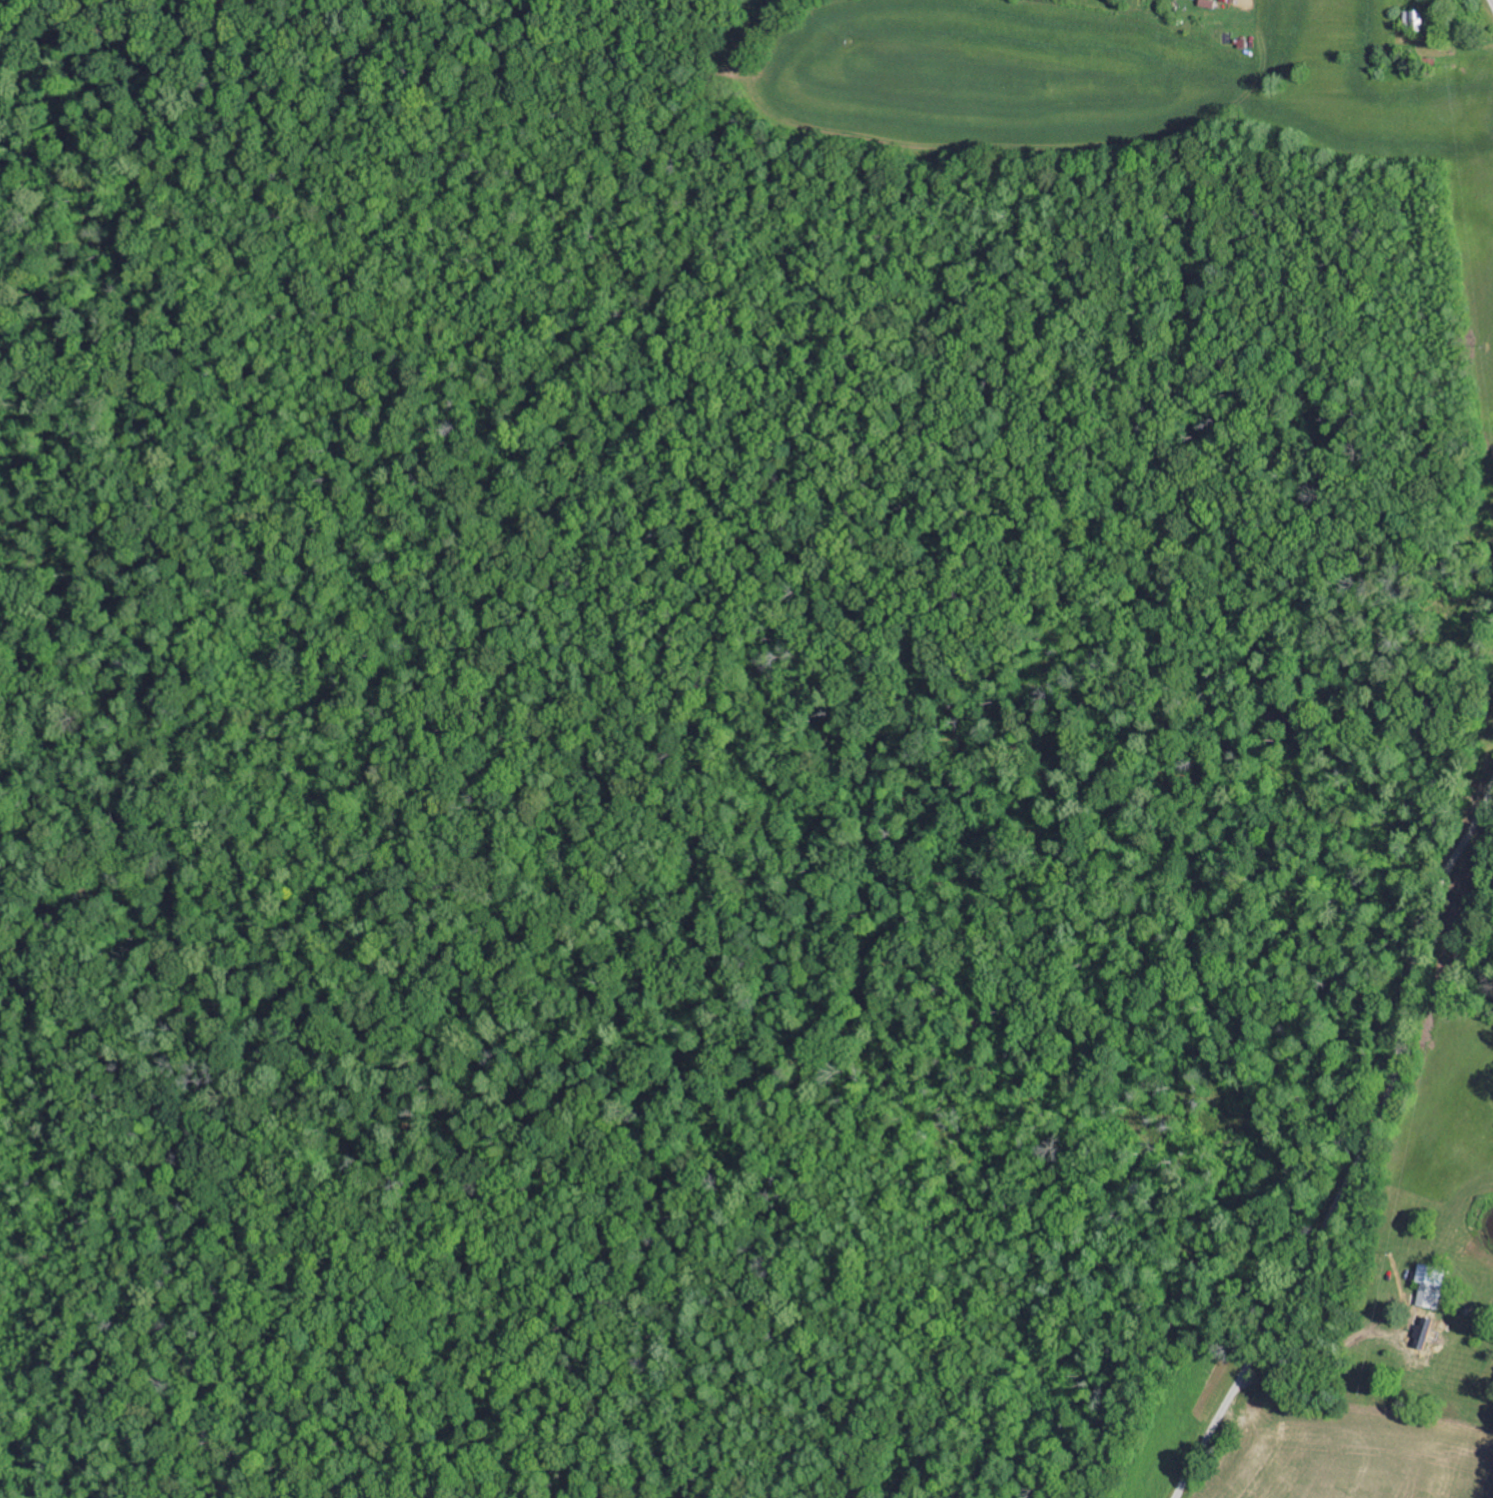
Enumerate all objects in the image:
road: (1492, 1)
road: (1363, 1148)
building: (1430, 1285)
building: (1418, 1331)

